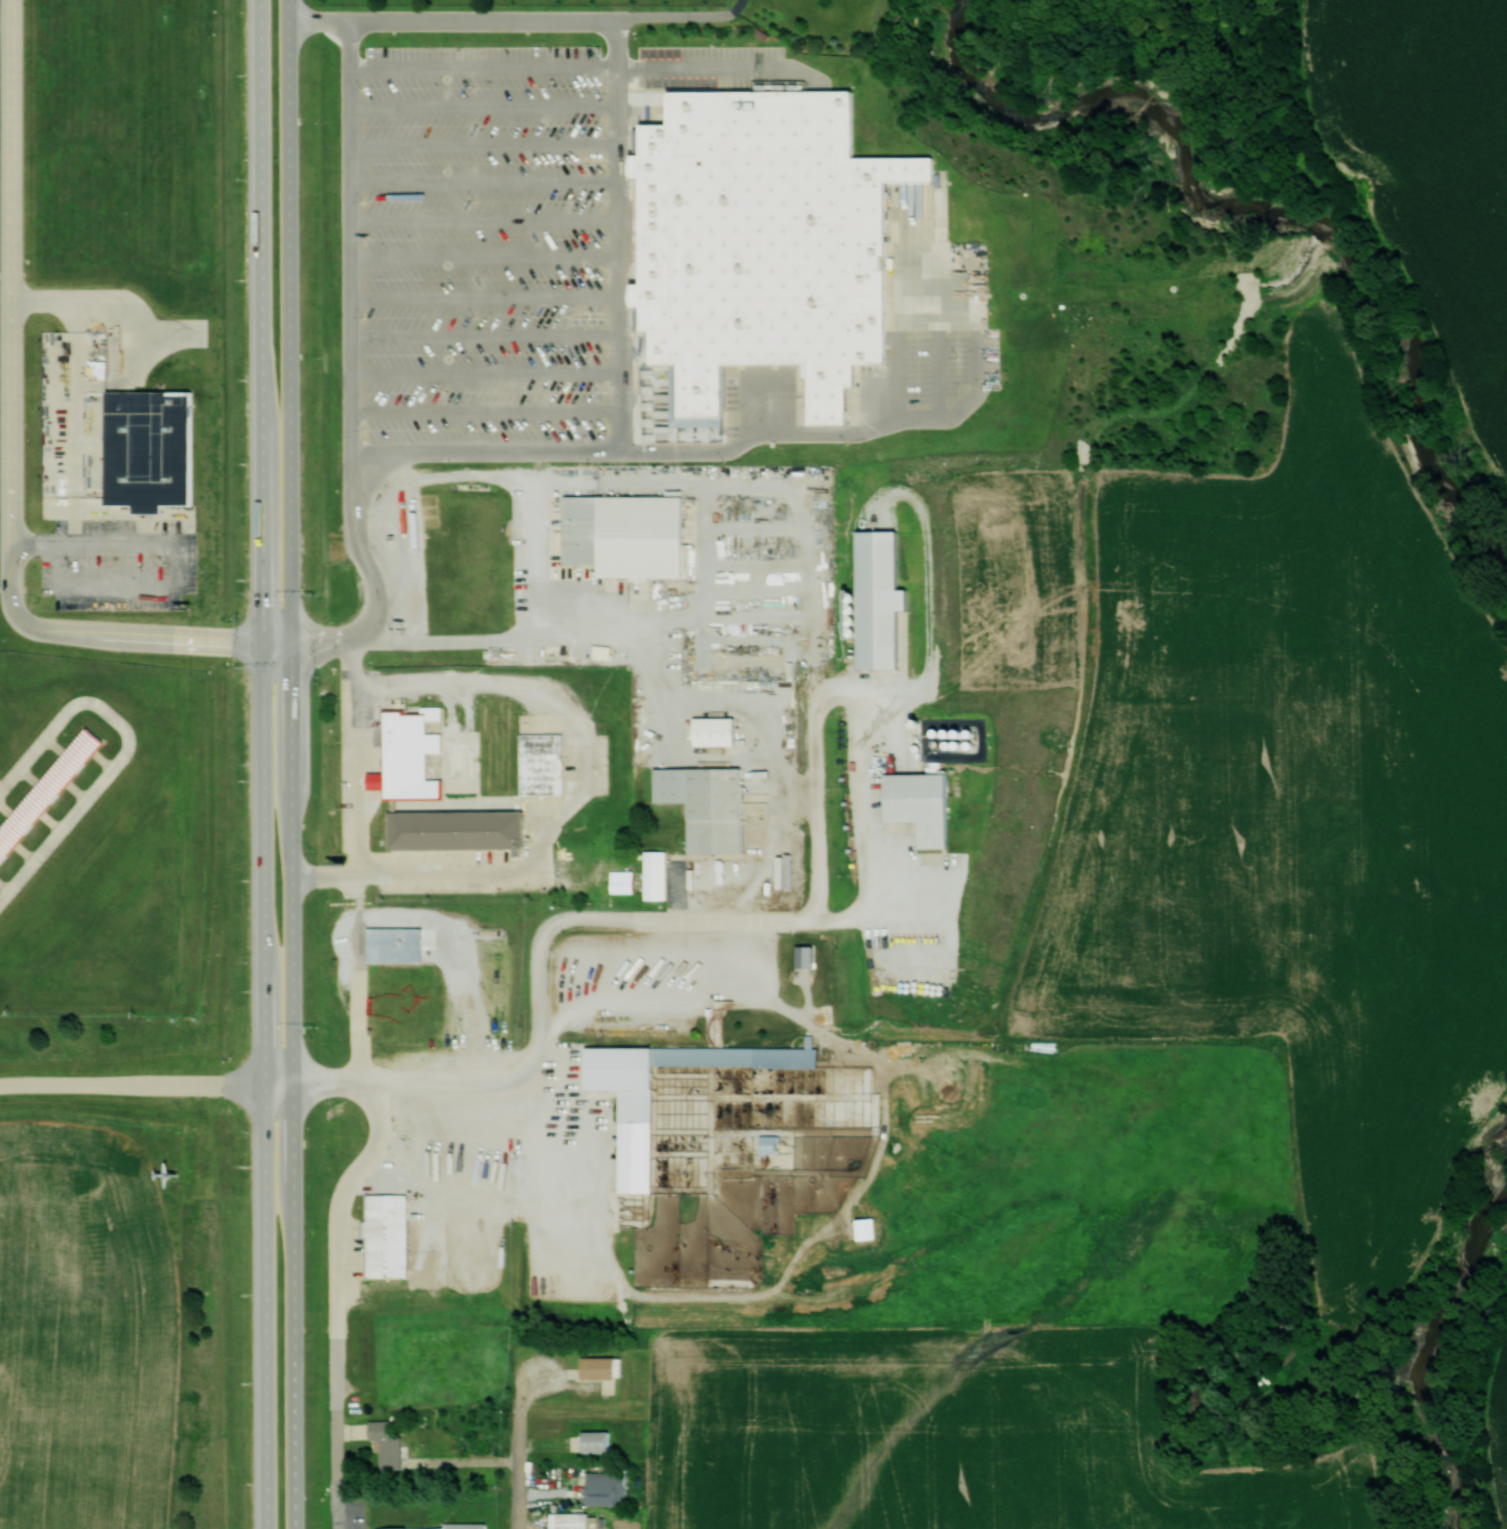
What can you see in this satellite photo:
road: (684, 14)
road: (454, 20)
road: (586, 65)
road: (486, 104)
road: (487, 143)
crop: (1429, 152)
road: (487, 180)
road: (487, 217)
road: (621, 231)
building: (767, 241)
road: (488, 256)
road: (488, 296)
road: (489, 333)
road: (901, 333)
road: (356, 368)
road: (940, 368)
road: (489, 369)
road: (490, 409)
road: (12, 446)
building: (152, 448)
road: (712, 448)
building: (631, 535)
traffic signals: (265, 644)
traffic signals: (295, 646)
building: (719, 731)
building: (412, 754)
road: (265, 764)
road: (296, 764)
building: (544, 764)
airport hangar: (50, 792)
building: (50, 792)
crop: (1297, 800)
road: (569, 801)
road: (809, 803)
building: (710, 805)
building: (925, 805)
building: (461, 830)
airport apron: (46, 846)
road: (354, 857)
building: (658, 875)
building: (625, 881)
road: (681, 917)
building: (399, 945)
road: (544, 1000)
road: (421, 1079)
road: (148, 1083)
building: (639, 1141)
building: (773, 1145)
building: (389, 1234)
road: (333, 1272)
building: (603, 1366)
crop: (1496, 1398)
building: (599, 1441)
building: (392, 1443)
road: (516, 1449)
building: (608, 1487)
road: (333, 1506)
building: (572, 1520)
building: (455, 1526)

